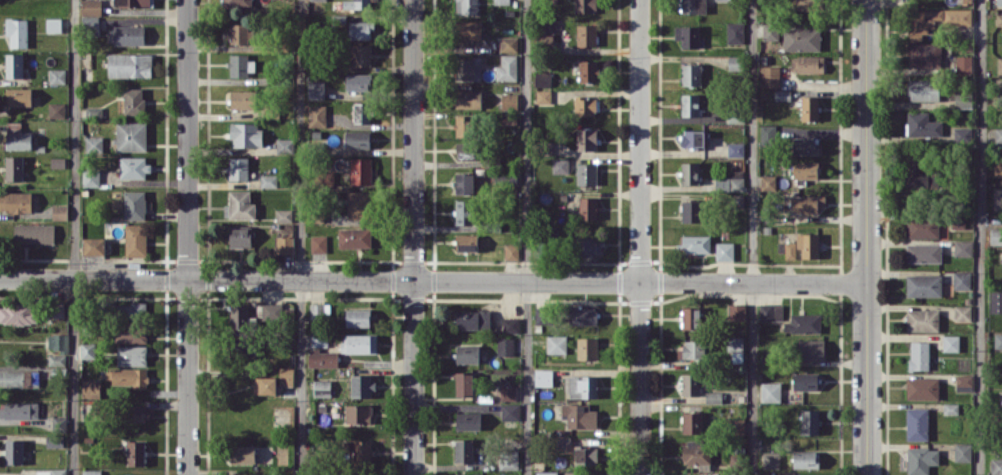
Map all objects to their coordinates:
building: (319, 0)
building: (725, 0)
building: (501, 1)
building: (548, 1)
building: (999, 2)
building: (132, 3)
building: (237, 3)
building: (356, 4)
building: (808, 4)
building: (466, 6)
building: (585, 6)
building: (693, 6)
building: (91, 7)
building: (998, 19)
building: (957, 22)
building: (54, 24)
building: (360, 29)
building: (469, 29)
building: (770, 31)
building: (17, 32)
building: (734, 32)
building: (239, 33)
building: (586, 34)
building: (126, 35)
building: (687, 35)
building: (801, 38)
building: (508, 44)
building: (361, 54)
building: (924, 54)
building: (807, 63)
building: (964, 64)
building: (14, 65)
building: (130, 65)
building: (240, 65)
building: (999, 65)
building: (468, 68)
building: (507, 68)
building: (587, 71)
building: (690, 74)
building: (57, 75)
building: (769, 76)
building: (542, 77)
building: (358, 81)
building: (315, 89)
building: (924, 89)
building: (782, 94)
building: (19, 96)
building: (543, 96)
building: (467, 98)
building: (243, 99)
building: (963, 99)
building: (133, 100)
building: (690, 104)
building: (585, 106)
building: (809, 108)
building: (509, 109)
building: (56, 110)
building: (93, 111)
building: (363, 112)
building: (317, 115)
building: (464, 125)
building: (922, 125)
building: (768, 133)
building: (245, 134)
building: (962, 134)
building: (998, 134)
building: (131, 136)
building: (692, 138)
building: (357, 139)
building: (586, 139)
building: (18, 140)
building: (94, 144)
building: (284, 145)
building: (804, 145)
building: (735, 149)
building: (465, 151)
building: (560, 165)
building: (133, 167)
building: (14, 168)
building: (238, 168)
building: (998, 168)
building: (360, 170)
building: (805, 170)
building: (689, 172)
building: (586, 173)
building: (90, 177)
building: (268, 180)
building: (507, 180)
building: (734, 181)
building: (464, 182)
building: (767, 182)
building: (997, 198)
building: (15, 201)
building: (807, 203)
building: (134, 204)
building: (359, 204)
building: (239, 205)
building: (587, 208)
building: (464, 211)
building: (692, 211)
building: (59, 212)
building: (283, 215)
building: (922, 226)
building: (33, 233)
building: (996, 236)
road: (75, 237)
road: (188, 237)
building: (240, 237)
road: (302, 237)
building: (354, 237)
road: (414, 237)
road: (528, 237)
road: (640, 237)
road: (753, 237)
road: (865, 237)
road: (981, 237)
building: (135, 239)
building: (466, 242)
building: (318, 243)
building: (695, 243)
building: (284, 244)
building: (808, 244)
building: (94, 245)
building: (590, 245)
building: (963, 248)
building: (790, 250)
building: (724, 251)
building: (511, 252)
building: (923, 252)
building: (962, 279)
road: (432, 281)
building: (923, 285)
building: (996, 301)
building: (57, 309)
building: (133, 310)
building: (272, 310)
building: (319, 311)
building: (736, 311)
building: (770, 312)
building: (18, 313)
building: (962, 313)
building: (542, 315)
building: (583, 315)
building: (239, 316)
building: (358, 317)
building: (691, 318)
building: (472, 319)
building: (922, 320)
building: (803, 323)
building: (510, 325)
building: (130, 333)
building: (319, 340)
building: (997, 341)
building: (58, 342)
building: (359, 343)
building: (735, 343)
building: (951, 343)
building: (556, 344)
building: (504, 346)
building: (587, 348)
building: (690, 349)
building: (811, 349)
building: (89, 350)
building: (246, 351)
building: (467, 354)
building: (131, 355)
building: (919, 355)
building: (322, 358)
building: (45, 371)
building: (129, 376)
building: (286, 376)
building: (543, 377)
building: (19, 378)
building: (805, 381)
building: (464, 383)
building: (964, 383)
building: (691, 384)
building: (264, 385)
building: (362, 385)
building: (581, 386)
building: (91, 388)
building: (322, 388)
building: (922, 388)
building: (770, 392)
building: (507, 393)
building: (19, 410)
building: (510, 411)
building: (137, 413)
building: (358, 413)
building: (579, 415)
building: (467, 420)
building: (810, 421)
building: (692, 422)
building: (59, 423)
building: (917, 423)
building: (55, 441)
building: (563, 443)
building: (359, 450)
building: (464, 450)
building: (14, 451)
building: (963, 451)
building: (135, 452)
building: (243, 453)
building: (697, 453)
building: (586, 456)
building: (508, 459)
building: (771, 459)
building: (805, 459)
building: (921, 460)
building: (996, 466)
building: (58, 471)
building: (91, 472)
building: (546, 473)
building: (248, 474)
building: (469, 474)
building: (806, 474)

